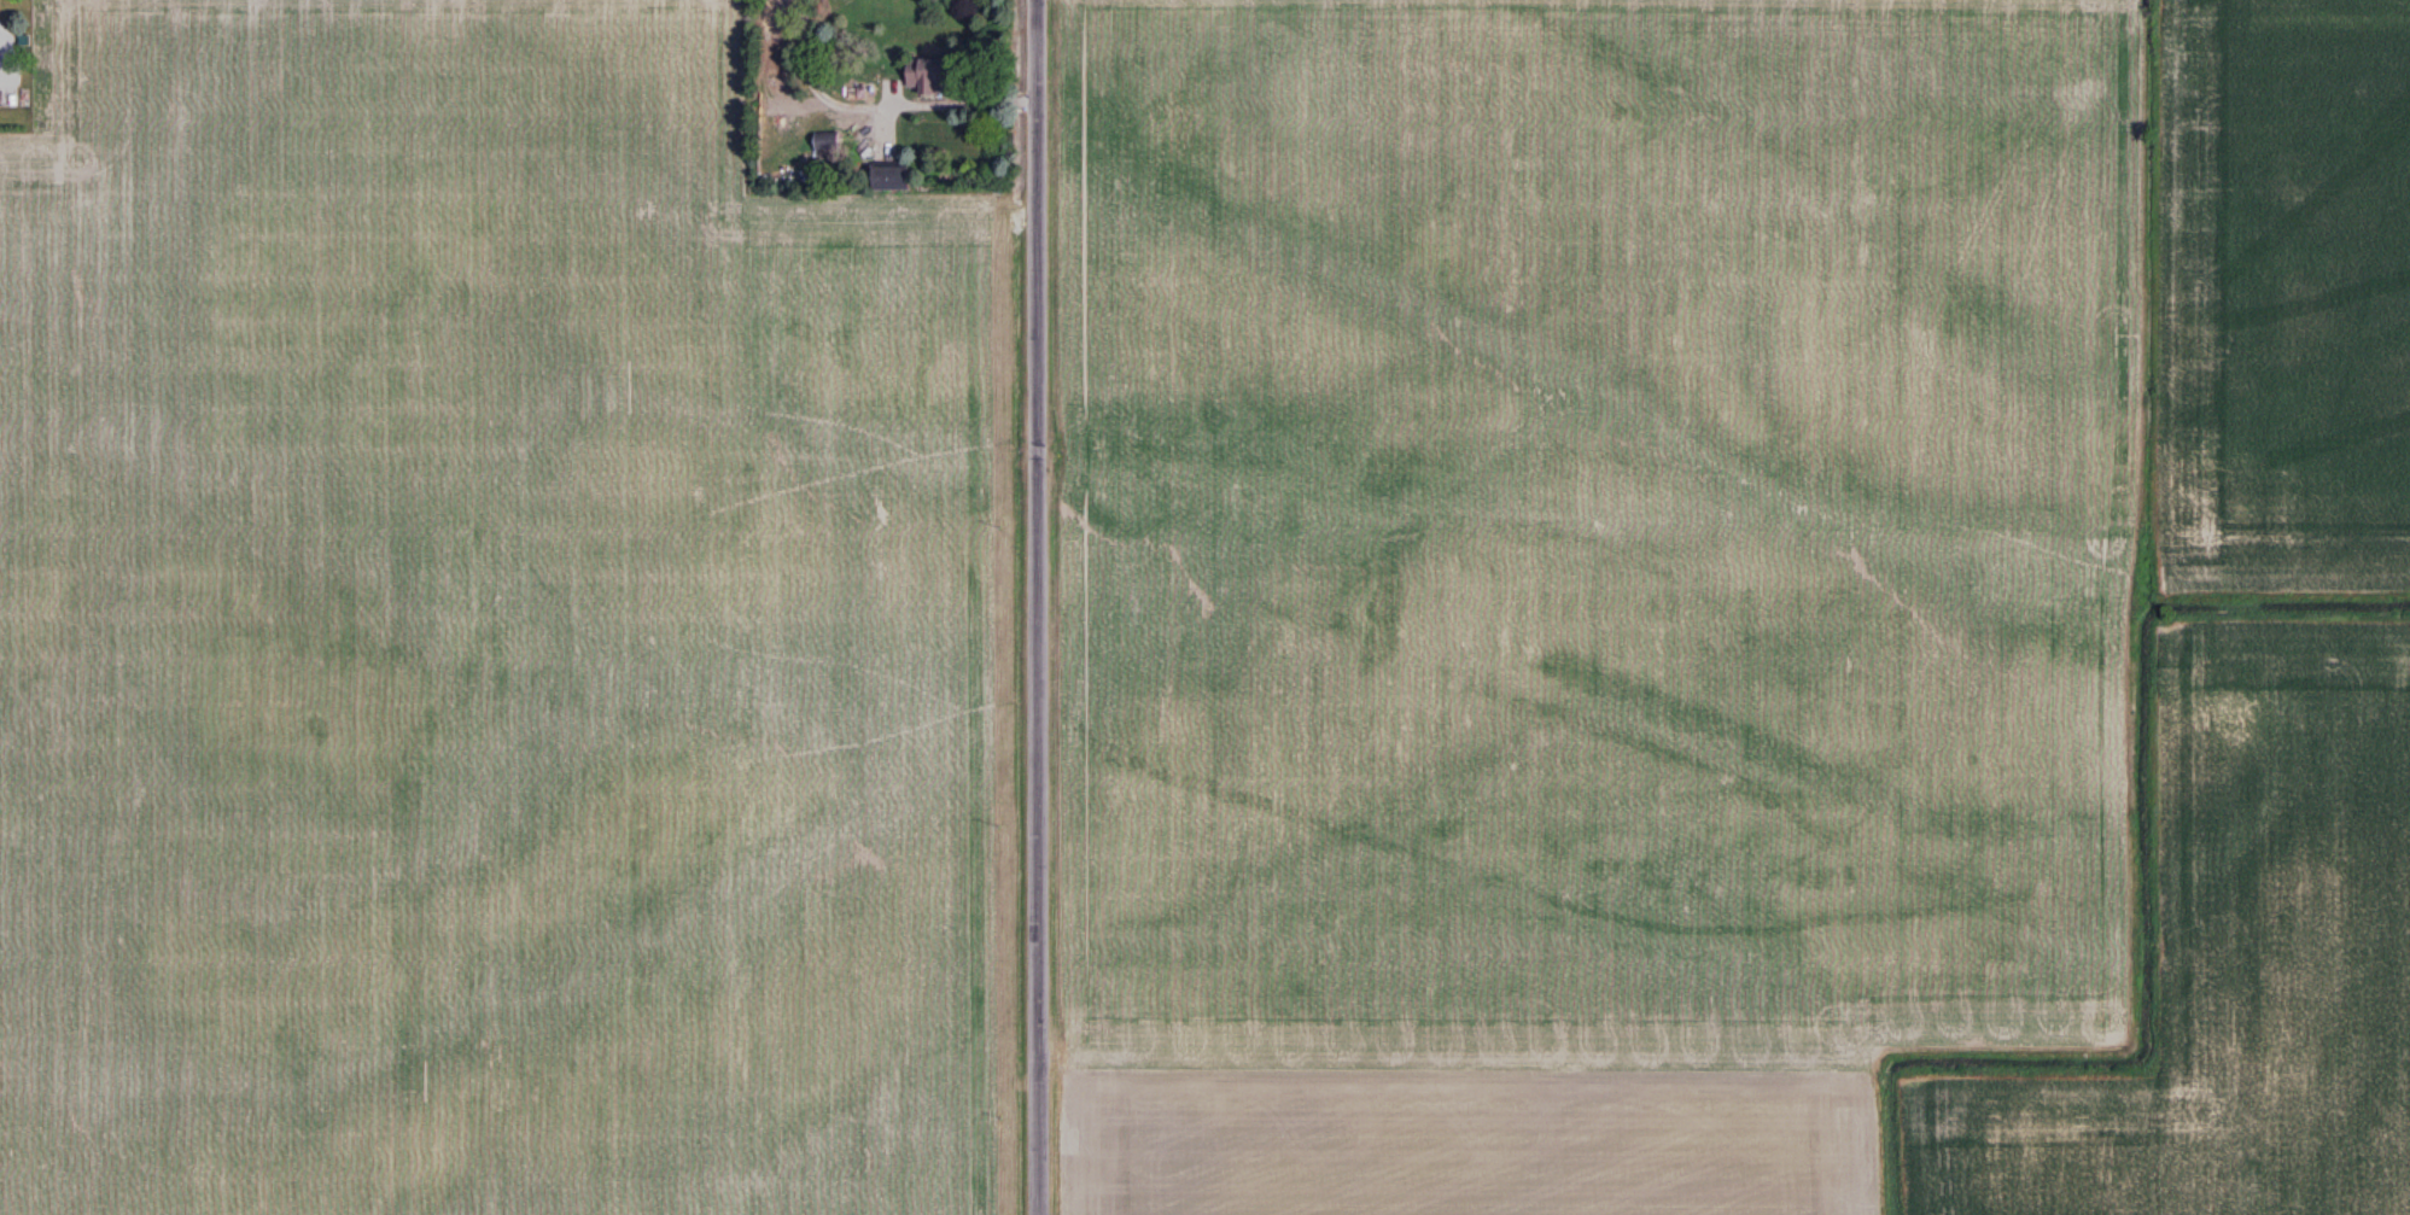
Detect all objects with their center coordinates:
building: (926, 75)
road: (881, 106)
building: (828, 146)
building: (891, 179)
road: (1039, 607)

